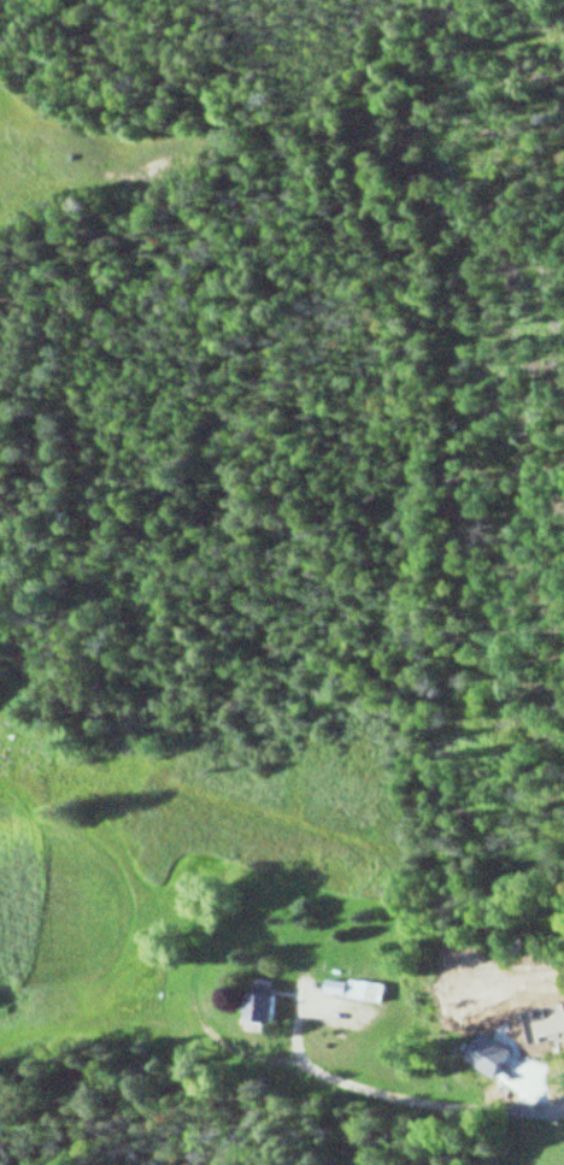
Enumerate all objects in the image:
building: (351, 992)
building: (253, 1006)
building: (512, 1010)
road: (450, 1102)

